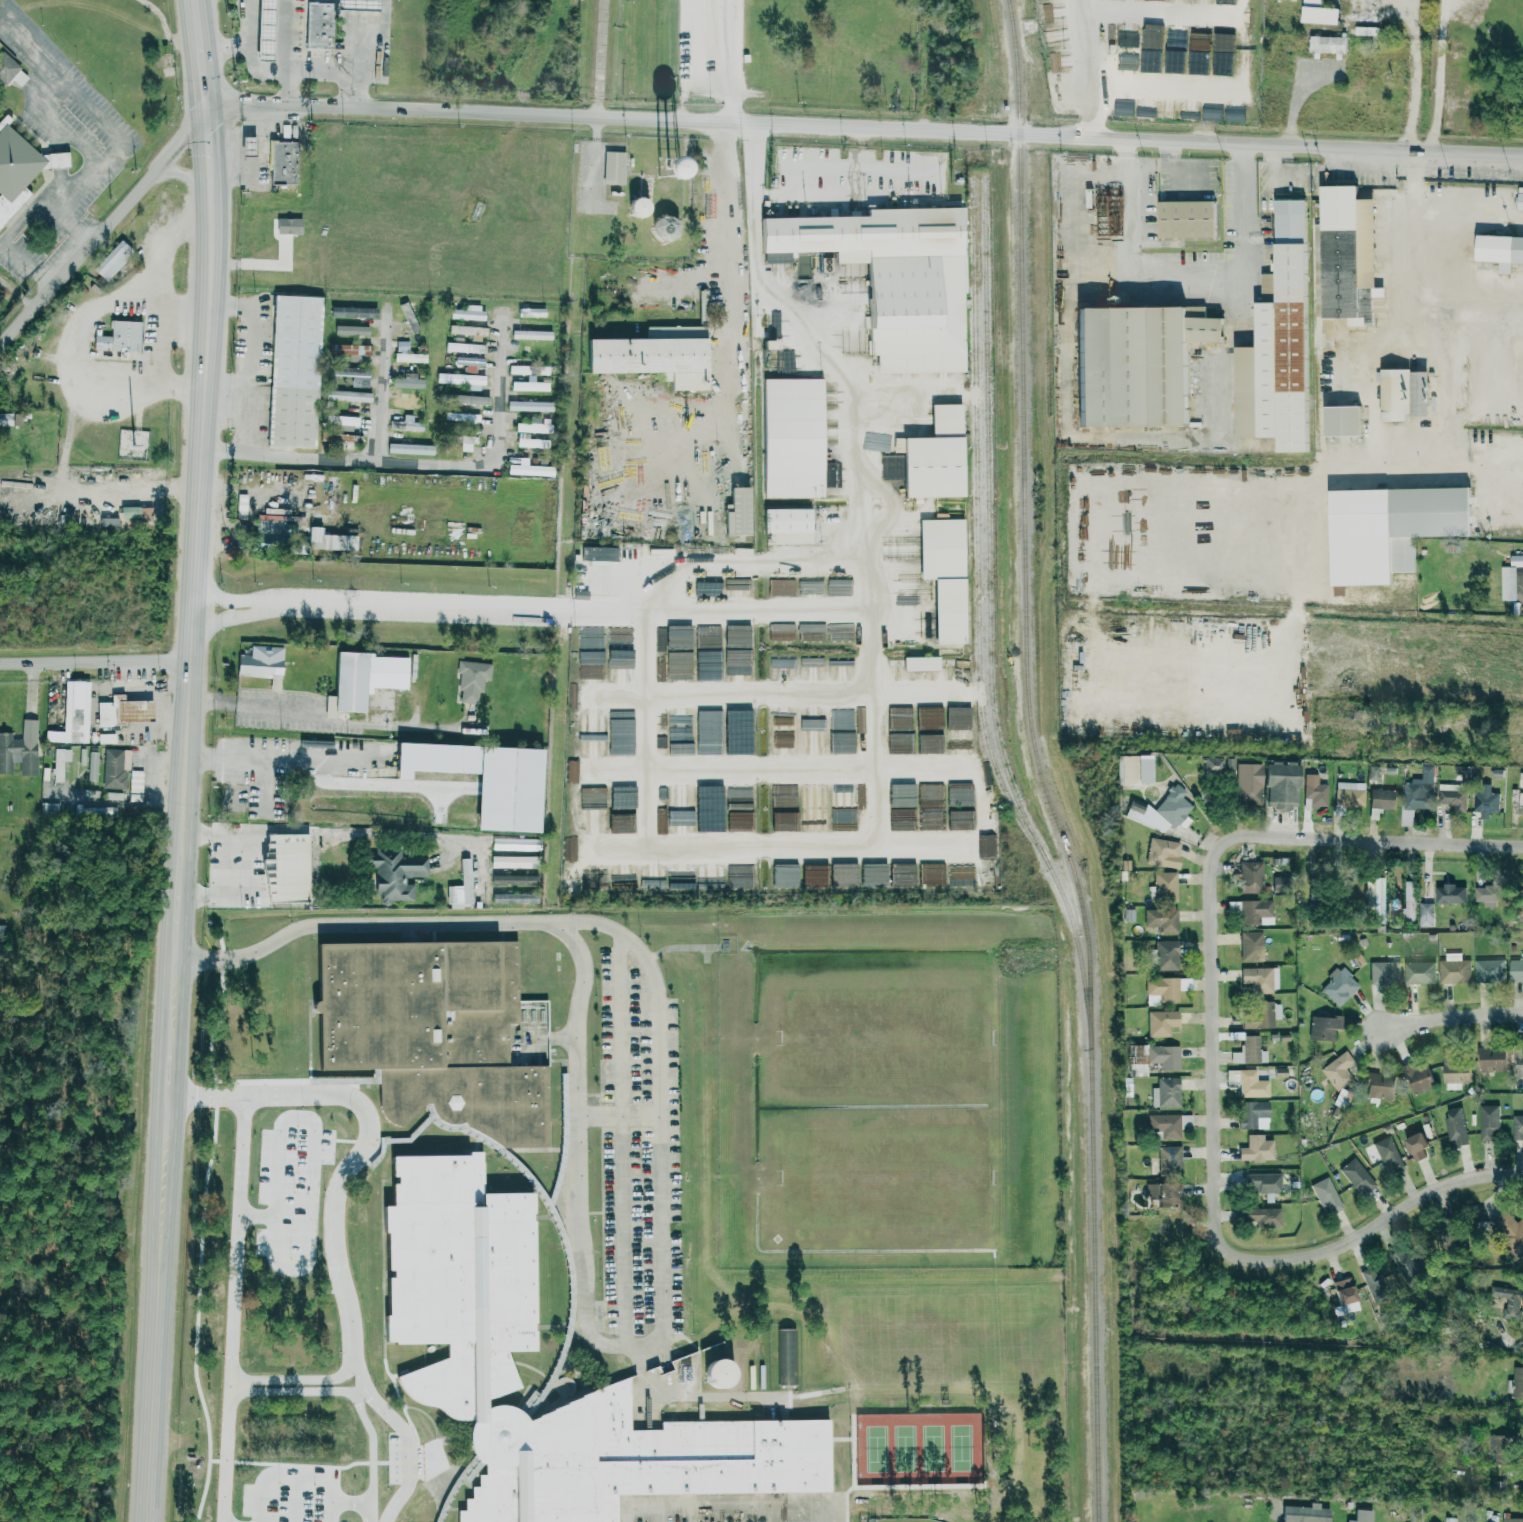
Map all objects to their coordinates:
building: (1224, 1)
building: (359, 4)
building: (1318, 13)
building: (320, 24)
building: (266, 30)
building: (1366, 30)
building: (1175, 37)
building: (1328, 45)
road: (227, 46)
building: (1150, 49)
building: (1223, 52)
road: (205, 58)
road: (377, 58)
road: (601, 59)
building: (1174, 59)
road: (735, 62)
building: (1198, 63)
building: (6, 68)
road: (1089, 69)
road: (273, 70)
road: (1414, 75)
road: (1446, 76)
road: (289, 88)
road: (37, 107)
road: (93, 109)
building: (1187, 111)
traffic signals: (207, 118)
road: (863, 129)
building: (245, 146)
road: (59, 160)
building: (17, 163)
building: (282, 163)
road: (1362, 163)
road: (211, 165)
building: (616, 166)
building: (656, 170)
road: (1241, 173)
road: (189, 176)
building: (1521, 200)
building: (636, 207)
road: (67, 219)
building: (1185, 219)
building: (287, 226)
building: (663, 228)
road: (101, 230)
road: (1416, 230)
road: (9, 231)
building: (1500, 248)
building: (1345, 256)
building: (111, 260)
building: (778, 261)
road: (1154, 275)
road: (154, 278)
building: (894, 278)
road: (18, 294)
road: (143, 303)
building: (468, 313)
building: (351, 330)
building: (467, 330)
building: (531, 334)
building: (118, 337)
building: (852, 343)
building: (1277, 343)
building: (465, 347)
building: (349, 349)
building: (654, 355)
building: (410, 358)
road: (249, 361)
building: (469, 361)
building: (1136, 364)
building: (527, 366)
building: (296, 368)
road: (126, 374)
building: (353, 375)
building: (462, 380)
building: (407, 381)
railway: (975, 383)
railway: (986, 383)
building: (531, 384)
road: (383, 389)
road: (676, 392)
building: (1418, 394)
building: (1394, 395)
building: (348, 396)
building: (467, 399)
road: (746, 401)
building: (406, 403)
road: (857, 403)
building: (530, 406)
road: (227, 407)
building: (462, 417)
building: (5, 419)
building: (344, 420)
building: (1344, 420)
building: (534, 423)
building: (406, 424)
building: (795, 437)
building: (344, 439)
building: (463, 442)
building: (530, 442)
building: (409, 449)
road: (424, 462)
building: (934, 466)
building: (529, 470)
road: (73, 485)
building: (1433, 512)
building: (737, 513)
building: (790, 520)
road: (201, 539)
building: (323, 541)
building: (943, 549)
building: (598, 554)
road: (681, 566)
building: (1512, 580)
building: (811, 586)
building: (845, 586)
building: (908, 586)
building: (735, 589)
building: (779, 589)
road: (229, 597)
road: (505, 607)
road: (230, 621)
building: (812, 632)
building: (841, 632)
building: (738, 636)
road: (98, 659)
building: (260, 662)
building: (922, 662)
building: (737, 664)
road: (283, 672)
building: (620, 678)
building: (472, 680)
building: (351, 681)
road: (932, 690)
railway: (980, 696)
road: (256, 708)
building: (123, 711)
building: (73, 714)
railway: (996, 725)
building: (592, 727)
building: (782, 735)
building: (106, 738)
building: (960, 743)
building: (591, 744)
building: (900, 744)
building: (1522, 746)
building: (685, 748)
building: (20, 750)
road: (293, 751)
building: (82, 756)
building: (60, 763)
railway: (1036, 764)
building: (1229, 764)
building: (1214, 765)
building: (92, 766)
building: (115, 768)
building: (1143, 769)
building: (1126, 770)
building: (572, 771)
building: (1373, 773)
road: (274, 780)
building: (1520, 780)
building: (484, 781)
building: (1248, 784)
building: (135, 785)
road: (873, 785)
building: (1280, 786)
building: (1314, 792)
building: (966, 794)
building: (1350, 794)
building: (1416, 796)
building: (1452, 796)
building: (620, 799)
building: (1382, 799)
building: (790, 800)
building: (1485, 802)
building: (739, 804)
building: (49, 808)
building: (1162, 811)
building: (593, 817)
building: (783, 821)
building: (815, 821)
building: (930, 822)
building: (620, 823)
road: (354, 832)
road: (1373, 837)
building: (511, 844)
building: (570, 847)
building: (1163, 853)
building: (513, 862)
building: (285, 868)
road: (250, 873)
building: (395, 874)
building: (785, 875)
building: (962, 875)
building: (682, 876)
building: (711, 876)
building: (905, 876)
building: (932, 876)
building: (1251, 877)
building: (815, 879)
building: (514, 880)
building: (465, 884)
building: (1165, 886)
building: (1450, 893)
building: (1485, 895)
building: (514, 897)
building: (1378, 899)
building: (1409, 900)
road: (180, 903)
railway: (1066, 906)
building: (1256, 912)
building: (1426, 913)
building: (1162, 919)
building: (1250, 945)
building: (1166, 955)
building: (1454, 969)
building: (1489, 969)
building: (1516, 970)
building: (1384, 972)
building: (1419, 972)
building: (1258, 978)
building: (1339, 985)
building: (1166, 989)
road: (174, 999)
building: (1262, 1015)
road: (1444, 1017)
building: (1161, 1022)
building: (1324, 1027)
building: (433, 1031)
road: (1217, 1048)
building: (1249, 1050)
building: (1152, 1057)
building: (1491, 1058)
building: (1518, 1063)
building: (1338, 1069)
building: (1280, 1072)
road: (170, 1074)
building: (1417, 1077)
building: (1248, 1082)
road: (1478, 1082)
building: (1379, 1085)
building: (1166, 1092)
road: (193, 1093)
road: (344, 1094)
building: (1343, 1098)
road: (259, 1103)
building: (1252, 1113)
road: (619, 1114)
building: (1185, 1120)
building: (1488, 1122)
building: (1165, 1125)
building: (1455, 1125)
building: (1517, 1127)
road: (622, 1138)
building: (1416, 1145)
building: (1256, 1149)
road: (662, 1153)
building: (1388, 1155)
building: (1169, 1160)
building: (1357, 1176)
building: (1264, 1182)
road: (313, 1185)
building: (1164, 1193)
building: (1326, 1194)
building: (1264, 1217)
road: (1380, 1224)
building: (1509, 1231)
building: (1445, 1238)
building: (1406, 1264)
building: (460, 1273)
building: (1369, 1280)
building: (1342, 1291)
building: (1510, 1301)
road: (157, 1307)
road: (1511, 1340)
building: (786, 1356)
building: (715, 1373)
road: (238, 1374)
road: (231, 1382)
building: (1515, 1383)
road: (358, 1384)
road: (236, 1394)
road: (369, 1399)
road: (408, 1435)
building: (1500, 1449)
road: (372, 1461)
road: (295, 1472)
road: (295, 1497)
road: (351, 1501)
road: (723, 1505)
building: (1305, 1513)
building: (1415, 1515)
building: (1362, 1516)
park: (906, 1519)
building: (1512, 1519)

